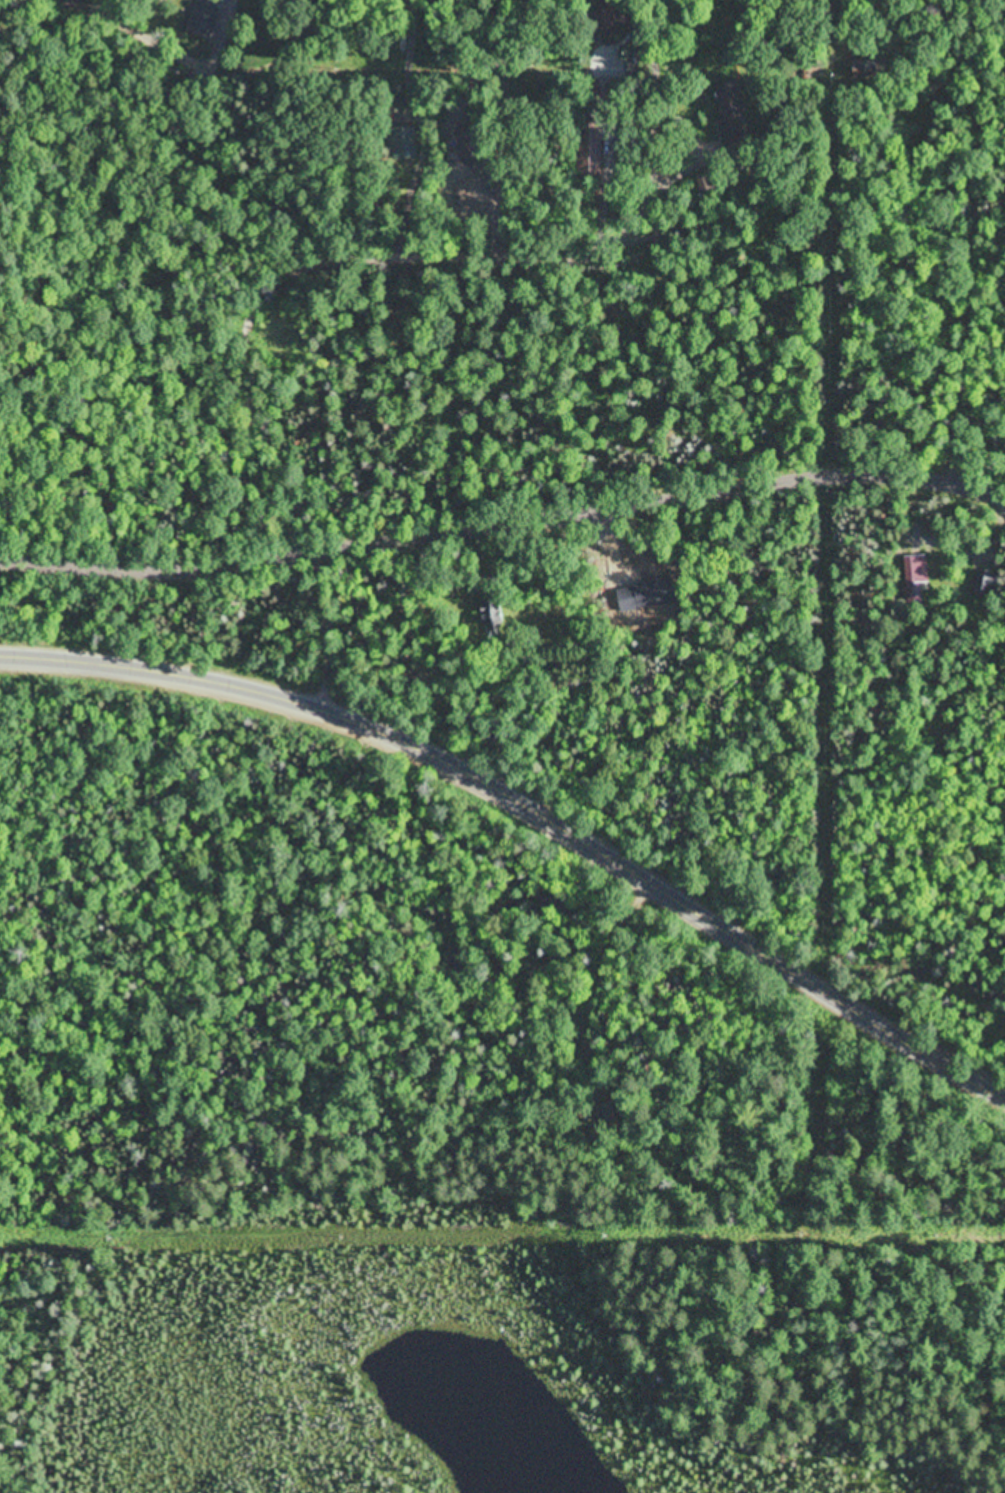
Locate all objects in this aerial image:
road: (19, 84)
road: (349, 141)
road: (188, 170)
road: (655, 178)
road: (921, 235)
road: (433, 253)
road: (296, 478)
road: (503, 519)
building: (912, 571)
road: (331, 627)
road: (529, 798)

